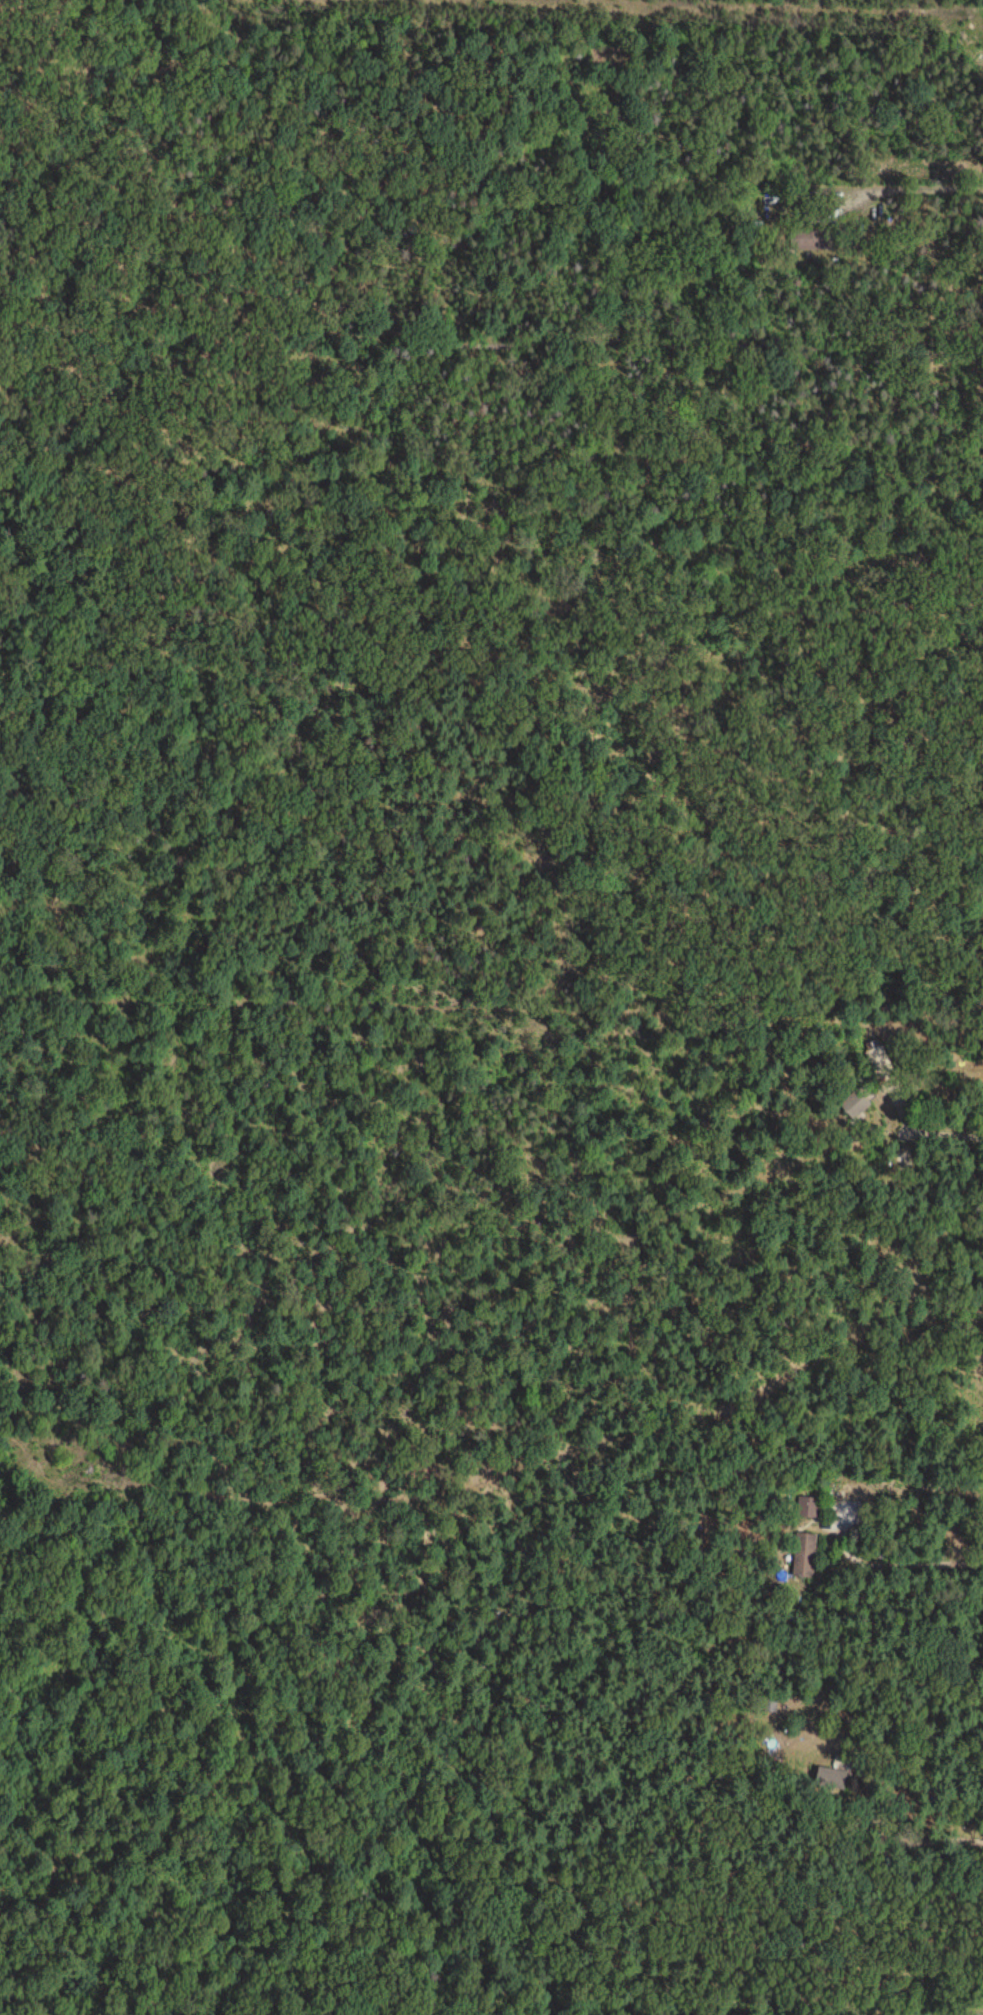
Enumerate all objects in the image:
road: (729, 7)
road: (922, 191)
building: (856, 1107)
road: (926, 1125)
building: (809, 1510)
road: (917, 1555)
building: (806, 1558)
building: (833, 1780)
road: (943, 1830)

